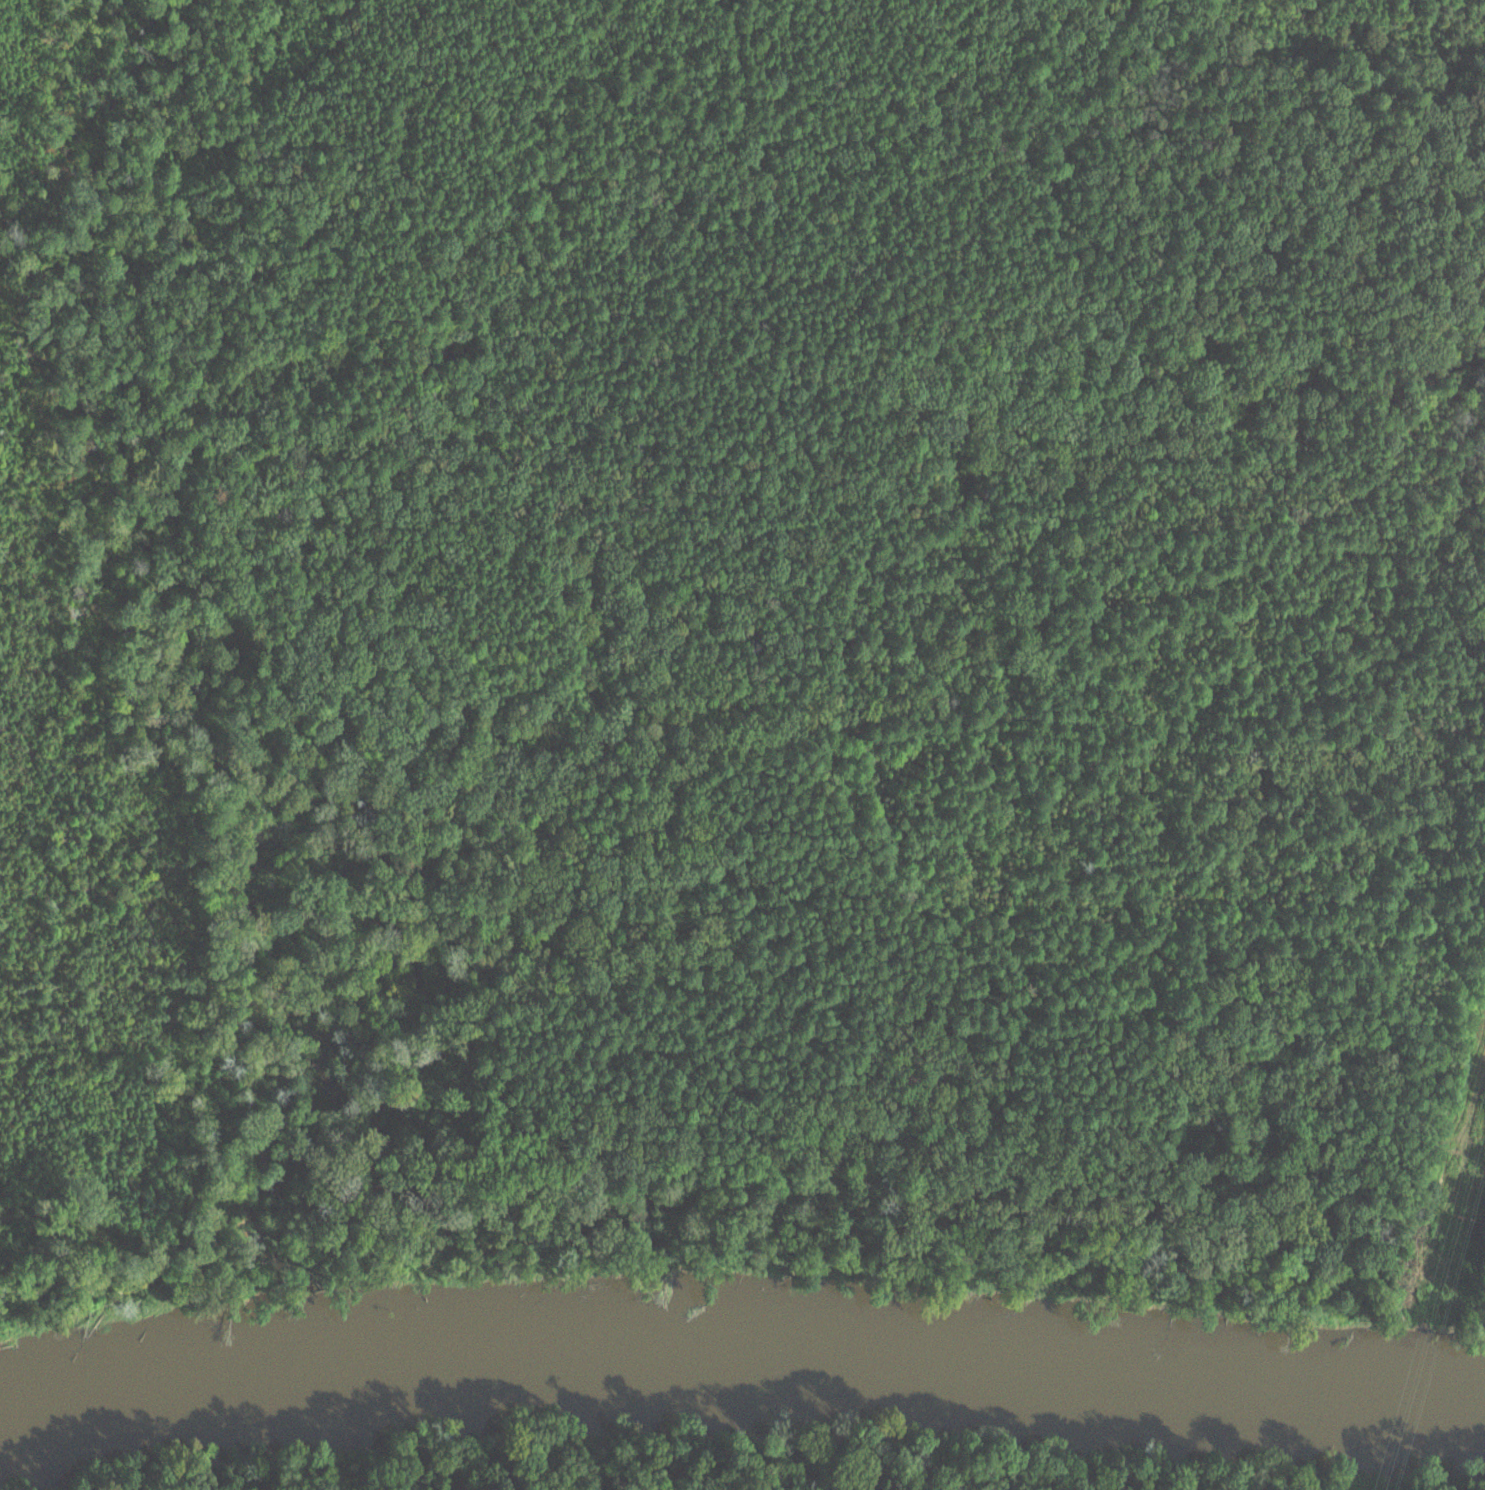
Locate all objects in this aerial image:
power tower: (1452, 1219)
river: (740, 1350)

